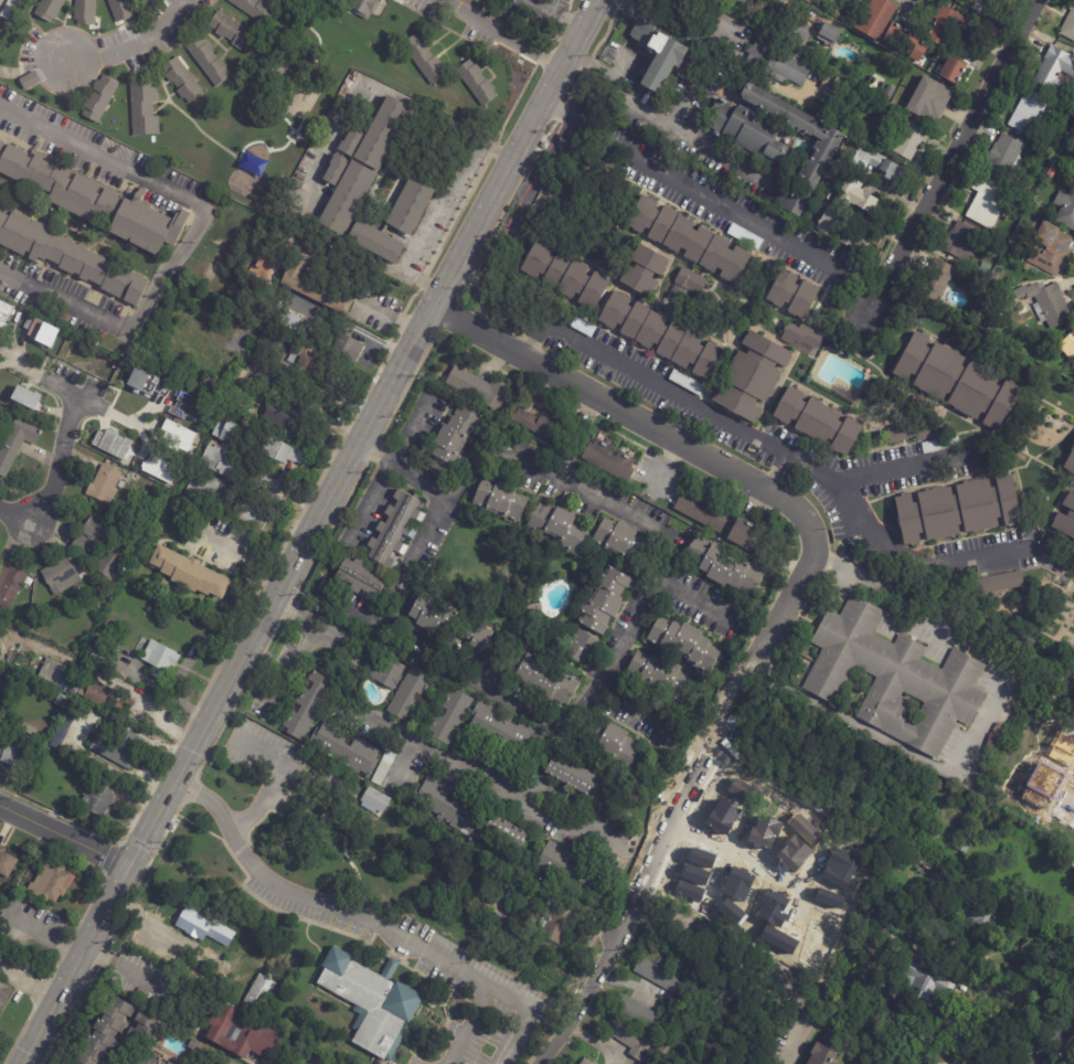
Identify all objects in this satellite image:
building: (550, 0)
building: (551, 0)
building: (322, 1)
building: (809, 1)
building: (363, 7)
building: (10, 9)
building: (49, 9)
building: (255, 9)
building: (120, 10)
building: (85, 12)
road: (550, 12)
building: (840, 13)
building: (878, 19)
building: (945, 25)
building: (1068, 25)
building: (794, 30)
building: (827, 31)
building: (233, 32)
road: (492, 35)
building: (906, 43)
road: (710, 44)
road: (135, 50)
building: (659, 56)
building: (209, 60)
building: (424, 60)
building: (770, 61)
building: (1054, 70)
building: (954, 71)
building: (26, 77)
building: (182, 81)
building: (477, 83)
building: (840, 85)
building: (891, 92)
building: (832, 96)
building: (99, 98)
building: (929, 100)
building: (830, 107)
building: (145, 109)
building: (1028, 115)
road: (655, 118)
building: (383, 130)
building: (774, 134)
building: (350, 139)
building: (912, 140)
road: (330, 147)
building: (1004, 156)
road: (950, 161)
building: (251, 162)
building: (334, 167)
building: (878, 167)
building: (1052, 173)
road: (685, 189)
building: (347, 195)
building: (987, 199)
building: (94, 201)
building: (795, 202)
building: (410, 204)
road: (436, 204)
building: (1065, 210)
building: (876, 215)
road: (191, 235)
building: (375, 240)
building: (689, 242)
building: (961, 242)
building: (1050, 251)
building: (67, 257)
building: (986, 269)
building: (645, 274)
building: (564, 276)
building: (997, 279)
building: (936, 281)
building: (689, 284)
building: (313, 285)
building: (793, 296)
building: (1053, 307)
building: (4, 312)
road: (392, 316)
building: (288, 320)
building: (41, 332)
building: (285, 337)
building: (801, 337)
building: (662, 338)
building: (1071, 341)
building: (345, 345)
building: (310, 359)
building: (1073, 359)
building: (136, 377)
building: (752, 380)
building: (212, 383)
building: (957, 383)
building: (687, 384)
building: (478, 387)
road: (68, 392)
building: (25, 397)
road: (306, 404)
building: (191, 407)
building: (291, 419)
building: (818, 424)
building: (226, 426)
building: (549, 428)
building: (204, 432)
building: (915, 434)
building: (178, 435)
building: (453, 440)
building: (17, 441)
building: (113, 444)
building: (940, 446)
building: (278, 450)
road: (696, 451)
road: (787, 454)
building: (219, 459)
building: (609, 459)
road: (515, 460)
road: (56, 461)
building: (1070, 465)
road: (392, 466)
building: (160, 468)
road: (775, 470)
road: (879, 470)
building: (104, 485)
building: (120, 485)
building: (203, 488)
building: (156, 493)
building: (500, 500)
building: (702, 511)
building: (959, 512)
building: (251, 513)
road: (14, 515)
building: (1066, 519)
building: (559, 525)
building: (398, 531)
building: (745, 533)
road: (308, 534)
building: (619, 541)
building: (81, 549)
road: (251, 553)
road: (1057, 554)
building: (722, 565)
building: (188, 572)
building: (61, 575)
building: (361, 577)
building: (999, 583)
road: (878, 585)
building: (10, 586)
building: (525, 597)
building: (605, 600)
building: (36, 607)
road: (355, 608)
building: (432, 615)
building: (111, 626)
building: (476, 632)
road: (626, 637)
building: (0, 639)
building: (684, 643)
building: (581, 646)
building: (107, 648)
road: (433, 650)
building: (159, 659)
road: (297, 671)
road: (105, 672)
building: (386, 673)
building: (540, 677)
building: (662, 677)
building: (895, 678)
building: (73, 682)
building: (408, 693)
building: (847, 696)
building: (60, 700)
building: (309, 701)
building: (450, 716)
building: (999, 727)
building: (502, 732)
road: (405, 743)
building: (990, 744)
building: (14, 747)
building: (125, 747)
building: (618, 748)
building: (344, 749)
road: (398, 764)
building: (383, 768)
road: (275, 776)
building: (576, 777)
building: (109, 778)
building: (939, 787)
building: (98, 799)
building: (375, 800)
building: (446, 806)
road: (671, 826)
building: (624, 832)
building: (504, 834)
road: (63, 836)
road: (735, 843)
building: (964, 845)
building: (990, 861)
building: (6, 863)
building: (1073, 865)
park: (398, 868)
building: (926, 869)
building: (568, 870)
building: (51, 882)
building: (981, 915)
road: (365, 918)
building: (556, 921)
building: (192, 922)
building: (221, 933)
building: (873, 948)
road: (759, 958)
road: (128, 966)
building: (662, 978)
road: (593, 980)
building: (926, 982)
road: (1008, 990)
building: (259, 992)
building: (3, 994)
building: (372, 1002)
building: (641, 1014)
road: (468, 1024)
building: (145, 1028)
building: (839, 1029)
building: (243, 1031)
building: (105, 1032)
road: (1053, 1038)
building: (629, 1039)
building: (319, 1043)
building: (194, 1044)
building: (827, 1052)
building: (295, 1054)
building: (141, 1057)
building: (225, 1060)
building: (586, 1062)
building: (168, 1063)
building: (595, 1063)

